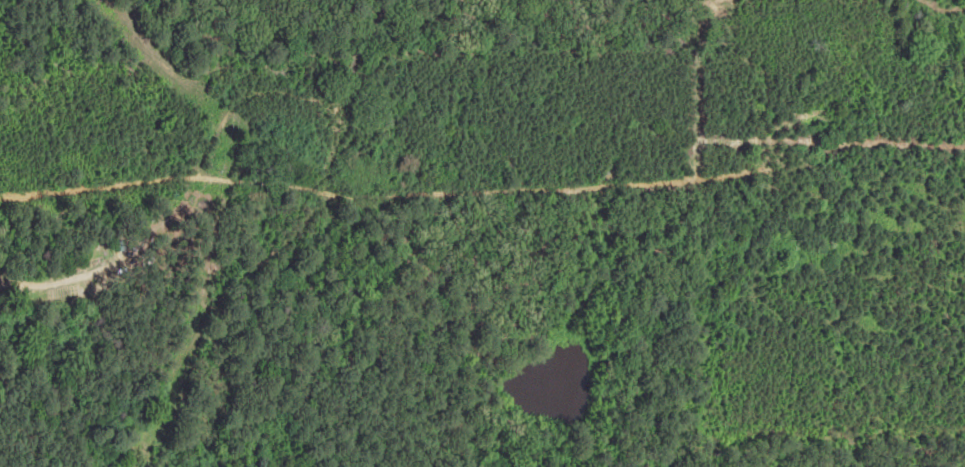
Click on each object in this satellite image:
road: (43, 264)
road: (377, 420)

